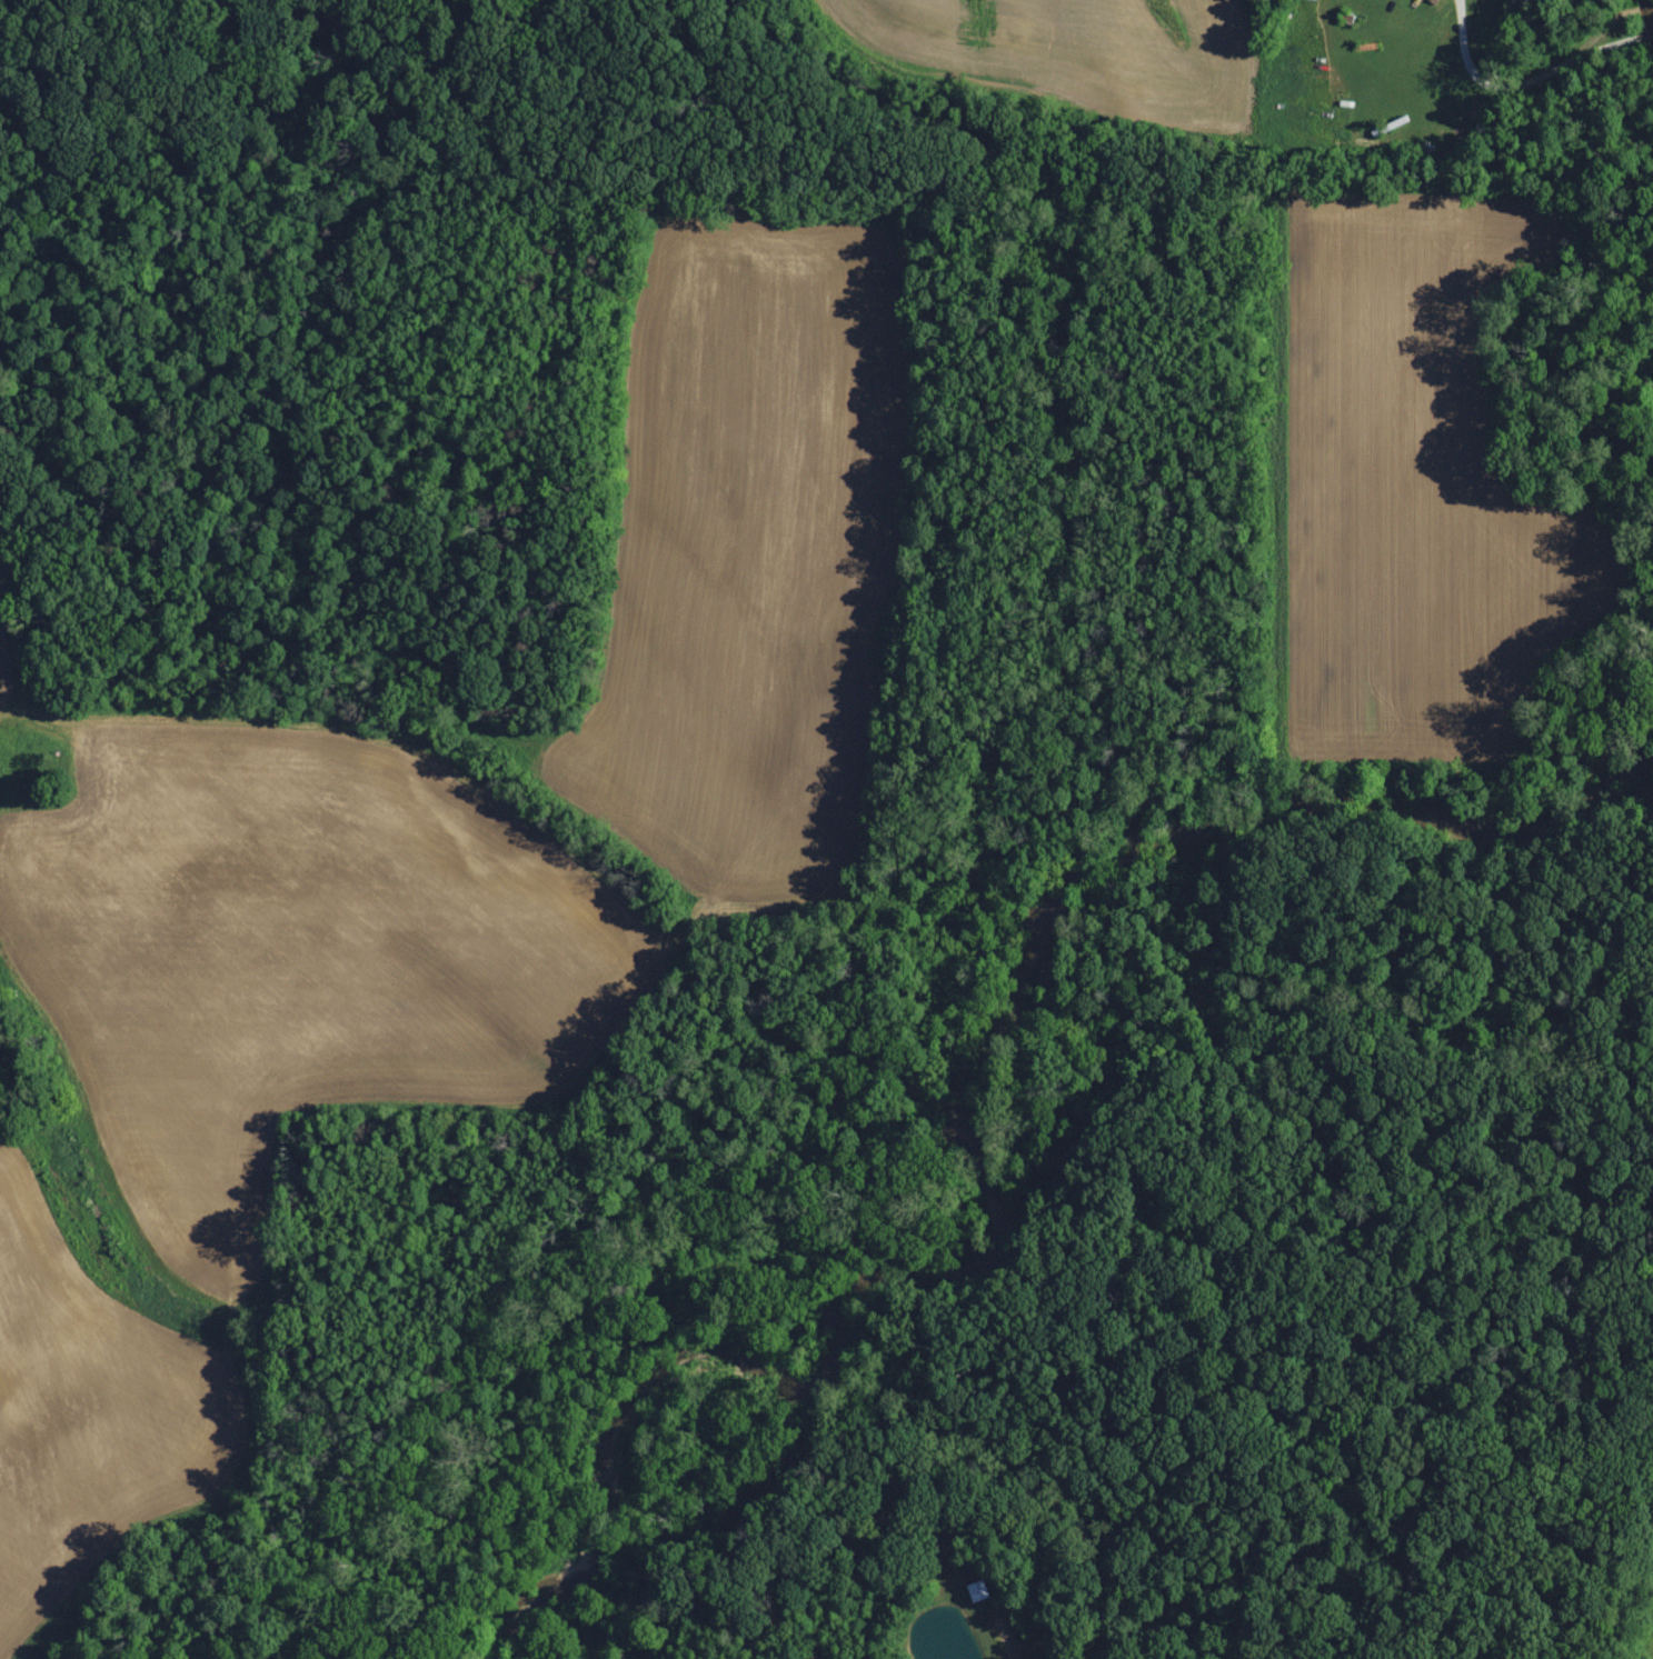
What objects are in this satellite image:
crop: (1420, 488)
crop: (754, 558)

